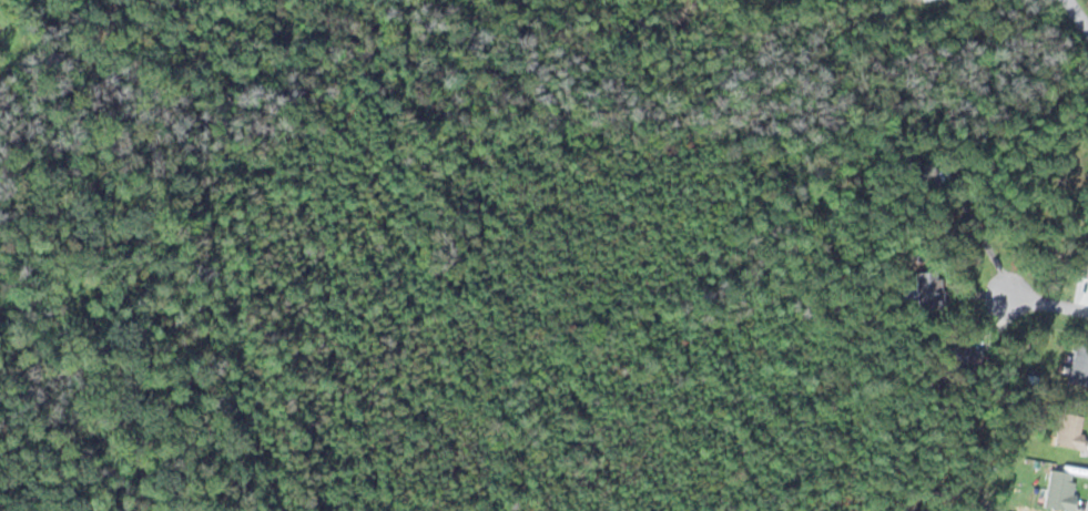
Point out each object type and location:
road: (1076, 16)
building: (1085, 264)
building: (928, 289)
road: (1044, 302)
building: (957, 352)
building: (1078, 366)
building: (1068, 432)
building: (1059, 491)

